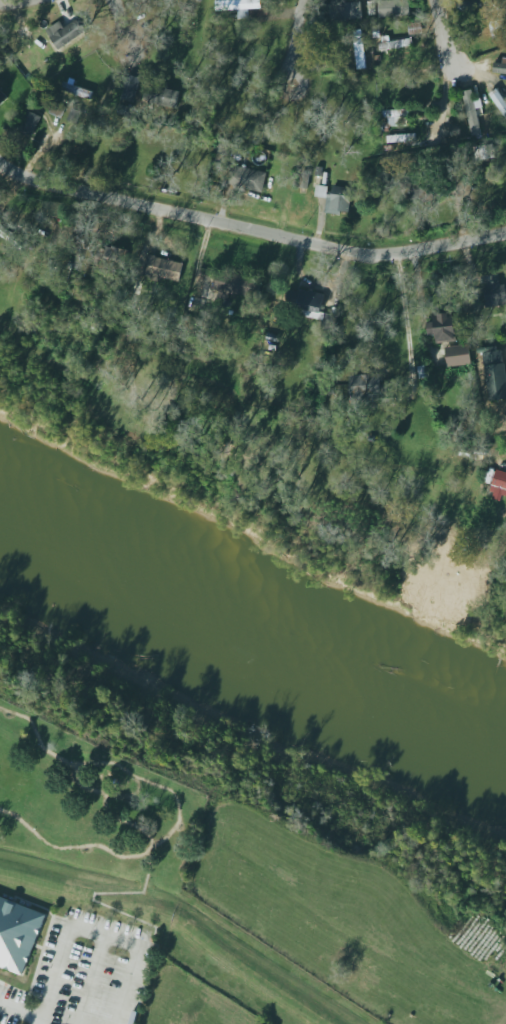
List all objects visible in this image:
road: (14, 3)
building: (477, 4)
building: (243, 8)
building: (394, 8)
building: (342, 10)
road: (121, 22)
building: (416, 28)
building: (63, 31)
building: (375, 31)
road: (447, 36)
building: (394, 42)
road: (299, 43)
building: (358, 48)
building: (500, 67)
building: (0, 79)
building: (77, 91)
building: (161, 94)
building: (2, 98)
building: (499, 100)
building: (471, 113)
building: (396, 118)
building: (31, 124)
building: (485, 152)
building: (318, 170)
building: (304, 179)
building: (251, 180)
building: (419, 192)
building: (337, 199)
road: (250, 229)
building: (11, 237)
building: (114, 259)
building: (163, 268)
building: (235, 284)
building: (495, 294)
building: (309, 302)
road: (407, 324)
building: (443, 328)
building: (458, 355)
building: (495, 373)
building: (370, 389)
building: (498, 483)
river: (247, 645)
road: (37, 736)
road: (135, 792)
road: (176, 801)
road: (124, 821)
road: (74, 846)
road: (93, 898)
building: (18, 931)
road: (105, 935)
parking lot: (84, 972)
road: (56, 975)
road: (93, 980)
road: (127, 985)
road: (21, 1012)

